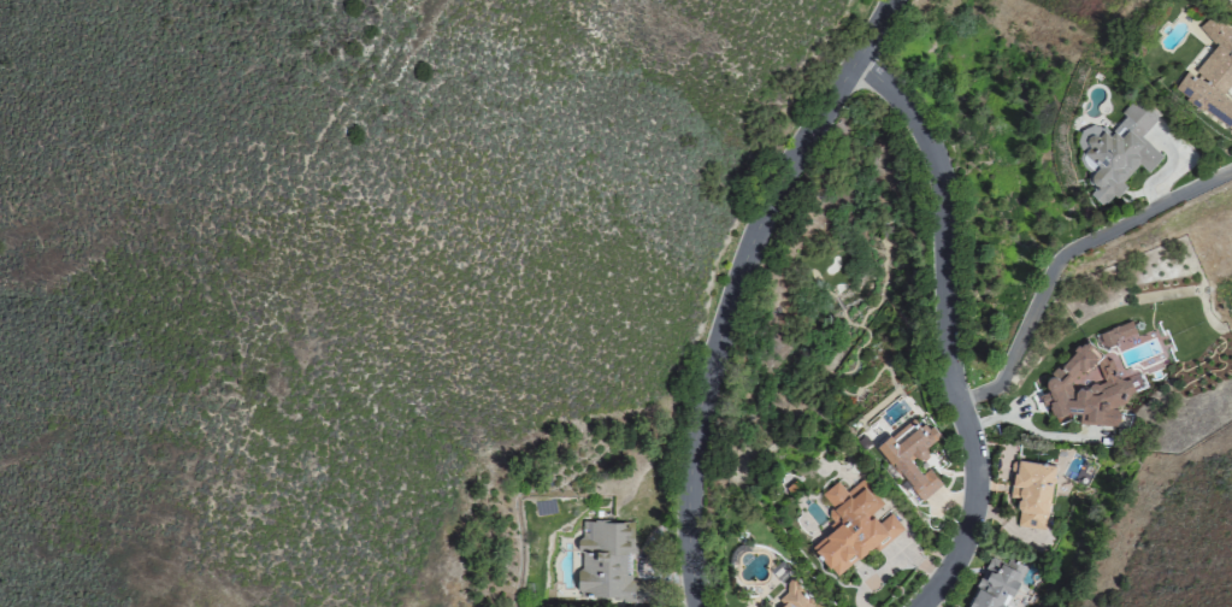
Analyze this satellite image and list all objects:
building: (1210, 75)
building: (1116, 149)
road: (1063, 253)
road: (735, 287)
road: (942, 329)
building: (1115, 332)
building: (1083, 390)
building: (1030, 491)
building: (851, 525)
building: (607, 562)
building: (992, 585)
building: (794, 596)

